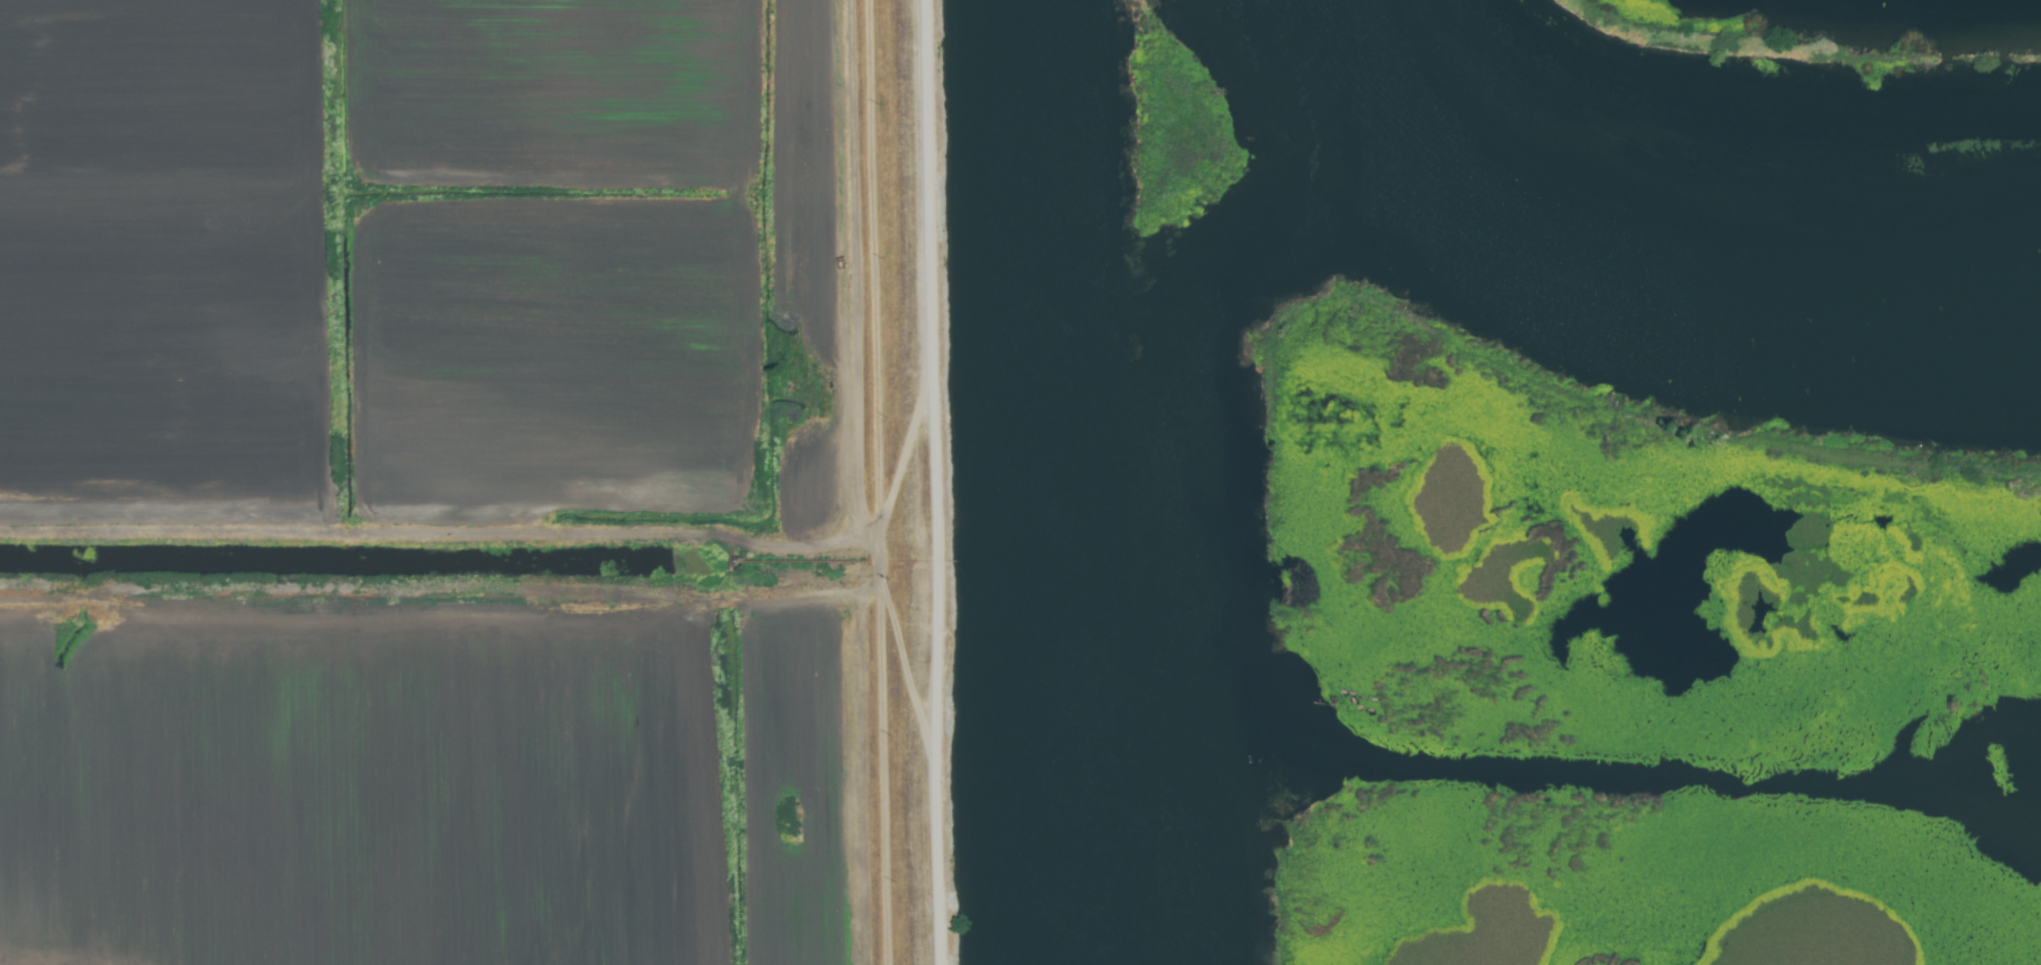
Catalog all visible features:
road: (932, 483)
crop: (459, 489)
road: (523, 535)
road: (879, 562)
road: (526, 601)

